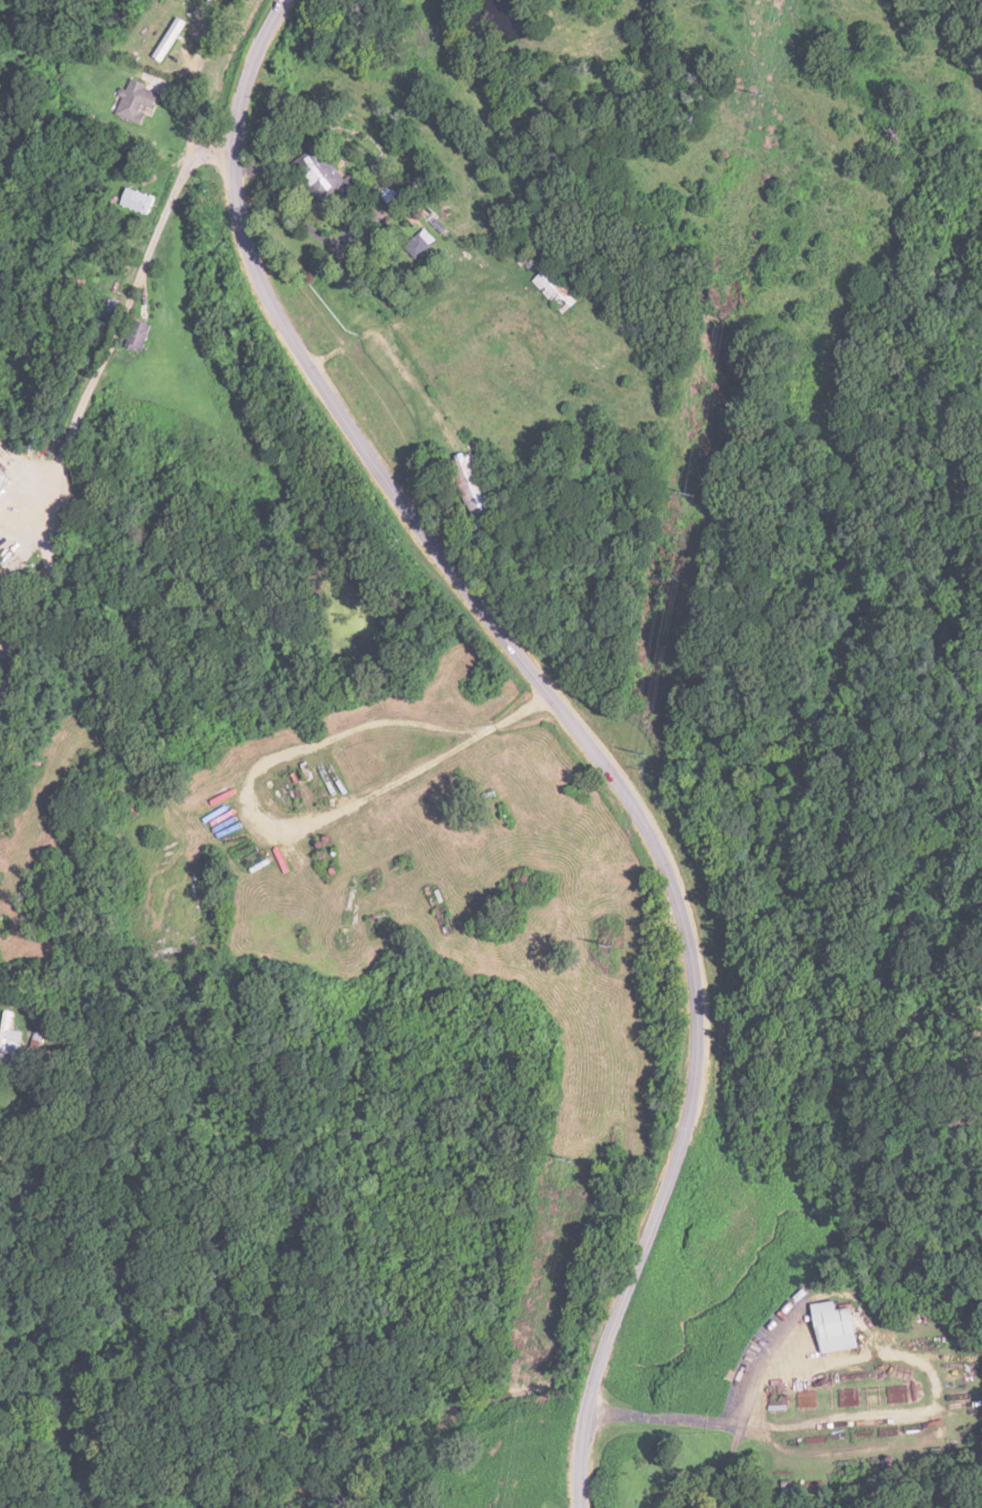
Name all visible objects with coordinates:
road: (925, 33)
building: (170, 39)
building: (139, 101)
road: (214, 147)
building: (329, 172)
building: (138, 201)
building: (978, 207)
building: (422, 242)
road: (136, 283)
building: (556, 290)
building: (141, 336)
building: (471, 474)
road: (566, 720)
building: (9, 1030)
building: (837, 1327)

